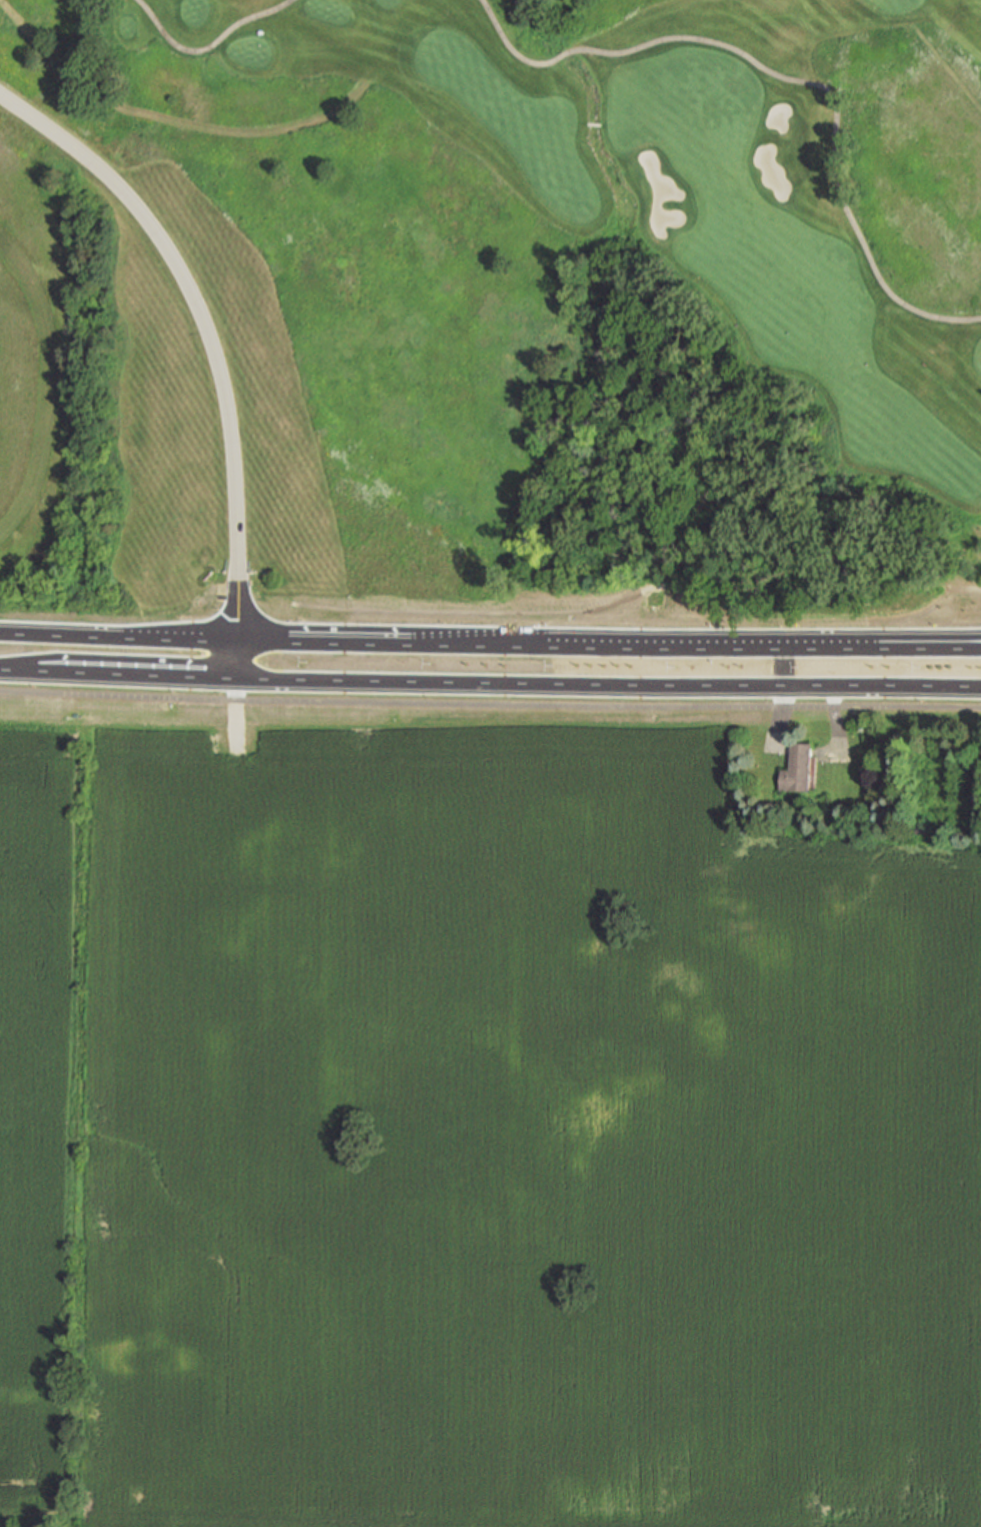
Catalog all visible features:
road: (509, 44)
road: (208, 45)
road: (562, 55)
road: (835, 110)
park: (530, 298)
road: (203, 325)
track: (48, 369)
road: (45, 385)
road: (117, 630)
road: (852, 640)
road: (479, 641)
road: (852, 647)
road: (235, 657)
road: (124, 659)
road: (118, 675)
road: (608, 684)
road: (490, 704)
building: (799, 767)
building: (920, 829)
crop: (473, 1132)

